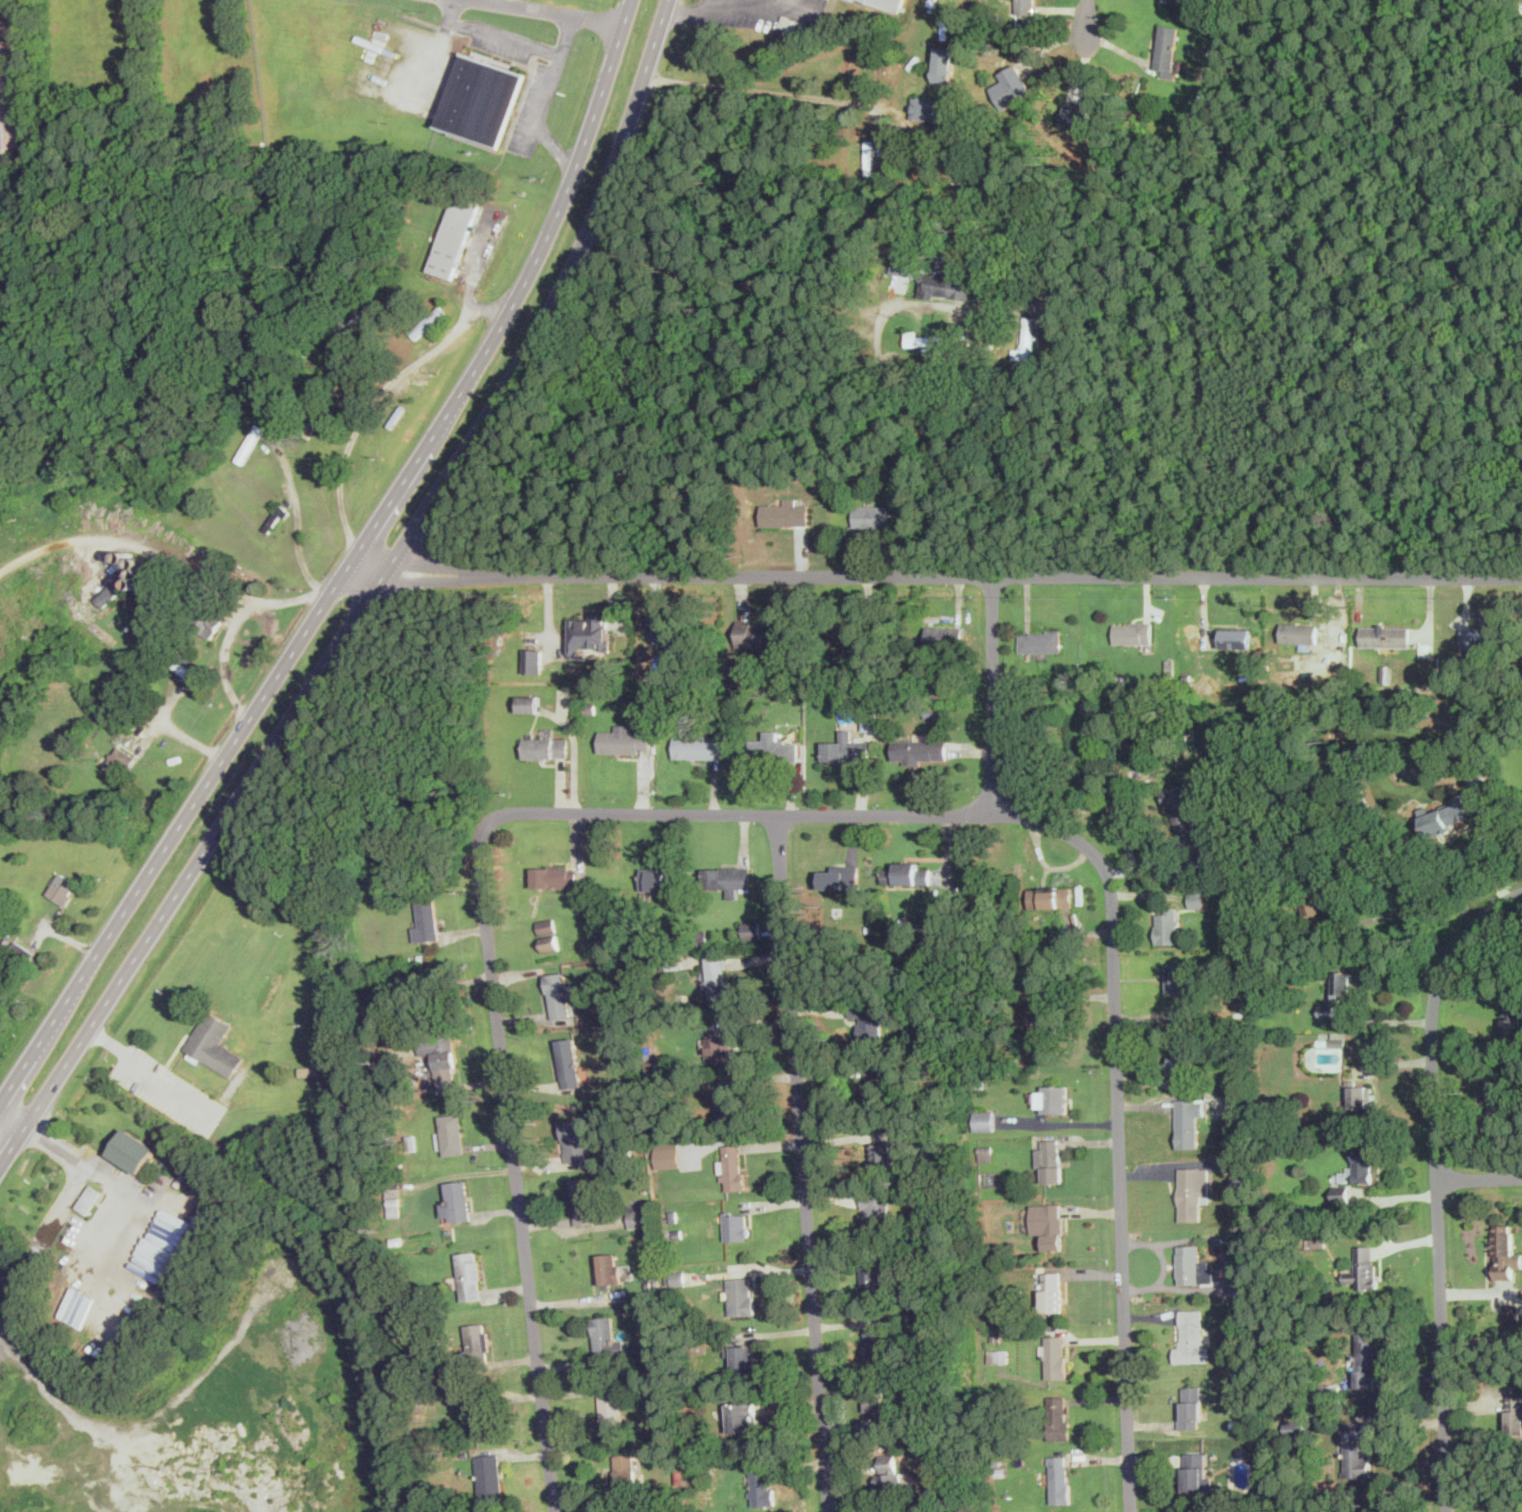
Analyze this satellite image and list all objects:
building: (1176, 0)
road: (509, 2)
building: (890, 3)
building: (1026, 6)
road: (789, 7)
building: (1520, 7)
road: (691, 11)
road: (552, 12)
road: (1086, 20)
road: (567, 36)
road: (654, 46)
building: (1165, 47)
road: (558, 54)
building: (1006, 63)
building: (944, 64)
road: (609, 72)
building: (1011, 86)
building: (9, 100)
building: (479, 102)
building: (927, 108)
building: (1076, 115)
building: (869, 156)
building: (453, 238)
building: (947, 277)
building: (924, 339)
building: (1026, 340)
road: (378, 396)
road: (917, 422)
building: (785, 514)
building: (871, 516)
road: (297, 522)
road: (938, 573)
building: (111, 591)
road: (304, 596)
building: (212, 623)
road: (304, 631)
building: (590, 631)
building: (1132, 632)
building: (671, 633)
building: (762, 633)
building: (853, 634)
building: (944, 634)
building: (1293, 634)
building: (1385, 636)
building: (1237, 637)
building: (1480, 637)
building: (1041, 640)
road: (341, 641)
building: (534, 660)
building: (185, 664)
road: (993, 693)
building: (529, 703)
building: (1091, 705)
building: (1461, 715)
building: (624, 740)
building: (697, 746)
building: (773, 746)
building: (845, 747)
building: (545, 748)
building: (920, 750)
road: (574, 753)
building: (121, 766)
building: (1180, 814)
building: (1445, 815)
road: (1481, 847)
building: (906, 874)
building: (555, 875)
building: (839, 877)
building: (658, 878)
building: (727, 878)
building: (63, 888)
building: (1051, 896)
building: (1197, 898)
building: (1316, 900)
road: (1404, 908)
road: (484, 913)
building: (425, 919)
building: (1168, 925)
building: (752, 930)
building: (547, 933)
building: (14, 944)
building: (1179, 976)
building: (718, 978)
building: (1343, 985)
building: (558, 994)
building: (1327, 1010)
building: (1049, 1019)
building: (1512, 1019)
road: (1384, 1020)
building: (869, 1021)
building: (214, 1043)
building: (719, 1047)
building: (442, 1060)
building: (568, 1063)
building: (1181, 1063)
road: (145, 1068)
building: (876, 1082)
building: (1361, 1095)
building: (1052, 1098)
building: (1500, 1100)
building: (727, 1103)
road: (12, 1119)
building: (984, 1120)
building: (1188, 1121)
road: (1058, 1123)
road: (1119, 1124)
building: (450, 1133)
building: (574, 1141)
building: (133, 1150)
building: (668, 1154)
building: (882, 1155)
building: (1050, 1160)
building: (1365, 1161)
road: (802, 1163)
building: (732, 1166)
road: (102, 1173)
road: (1480, 1176)
road: (1438, 1182)
building: (1341, 1192)
building: (1192, 1194)
building: (88, 1199)
building: (459, 1200)
building: (581, 1201)
building: (393, 1203)
building: (876, 1211)
building: (638, 1215)
building: (1048, 1223)
building: (736, 1225)
building: (190, 1243)
building: (1504, 1252)
building: (1193, 1266)
building: (1362, 1267)
building: (608, 1269)
building: (469, 1275)
building: (678, 1278)
building: (872, 1279)
building: (1051, 1291)
building: (741, 1295)
building: (881, 1336)
building: (605, 1338)
building: (1191, 1338)
building: (478, 1339)
building: (1055, 1356)
building: (743, 1357)
building: (1368, 1359)
building: (875, 1399)
building: (610, 1405)
building: (1190, 1406)
building: (481, 1414)
building: (1515, 1414)
building: (743, 1416)
building: (1058, 1417)
building: (885, 1420)
building: (1294, 1426)
building: (1354, 1447)
building: (625, 1469)
building: (888, 1472)
building: (1195, 1473)
building: (488, 1474)
building: (1059, 1479)
building: (762, 1484)

